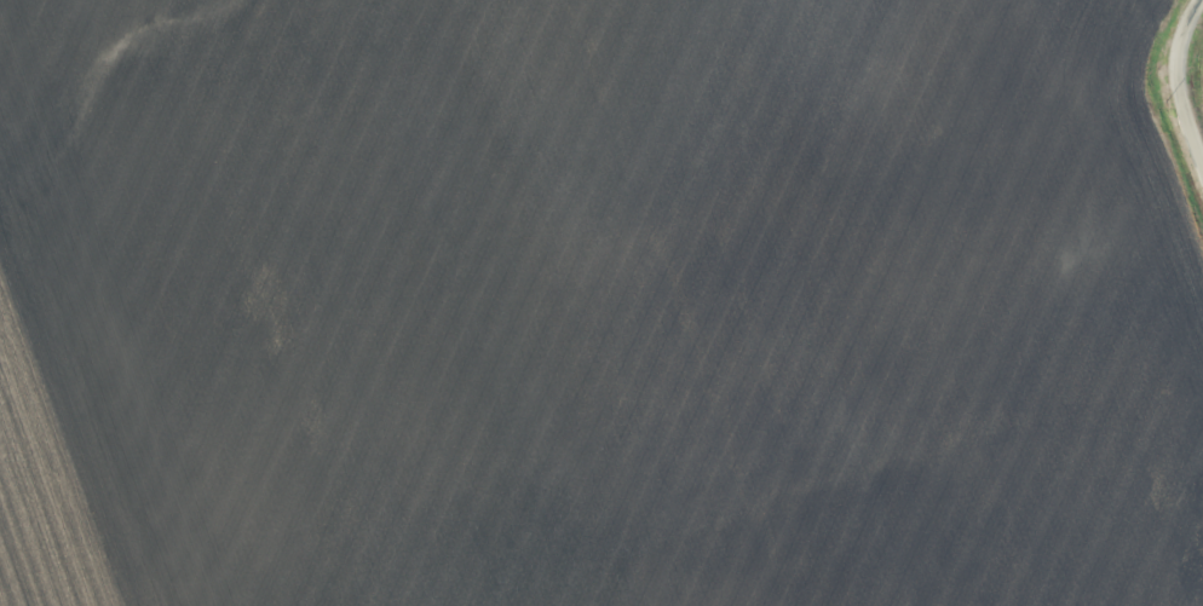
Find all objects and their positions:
road: (1180, 81)

